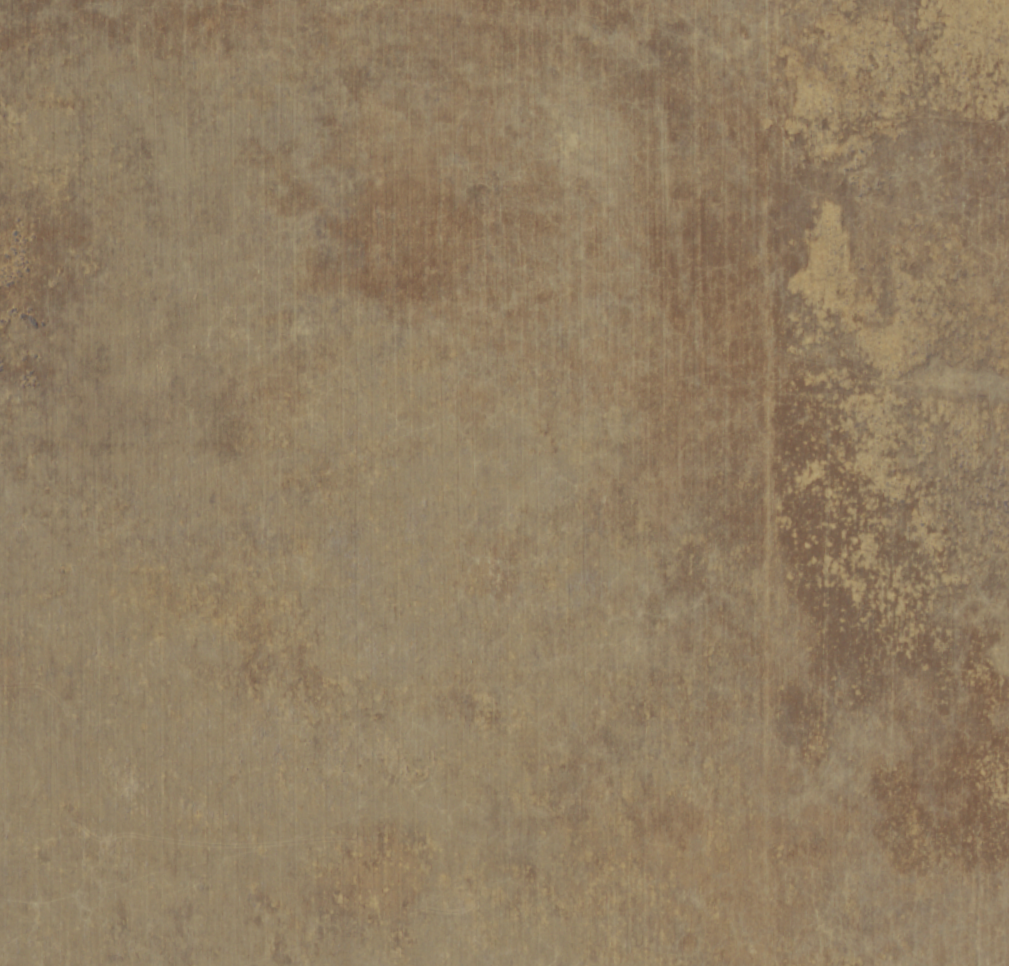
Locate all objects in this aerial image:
road: (885, 483)

